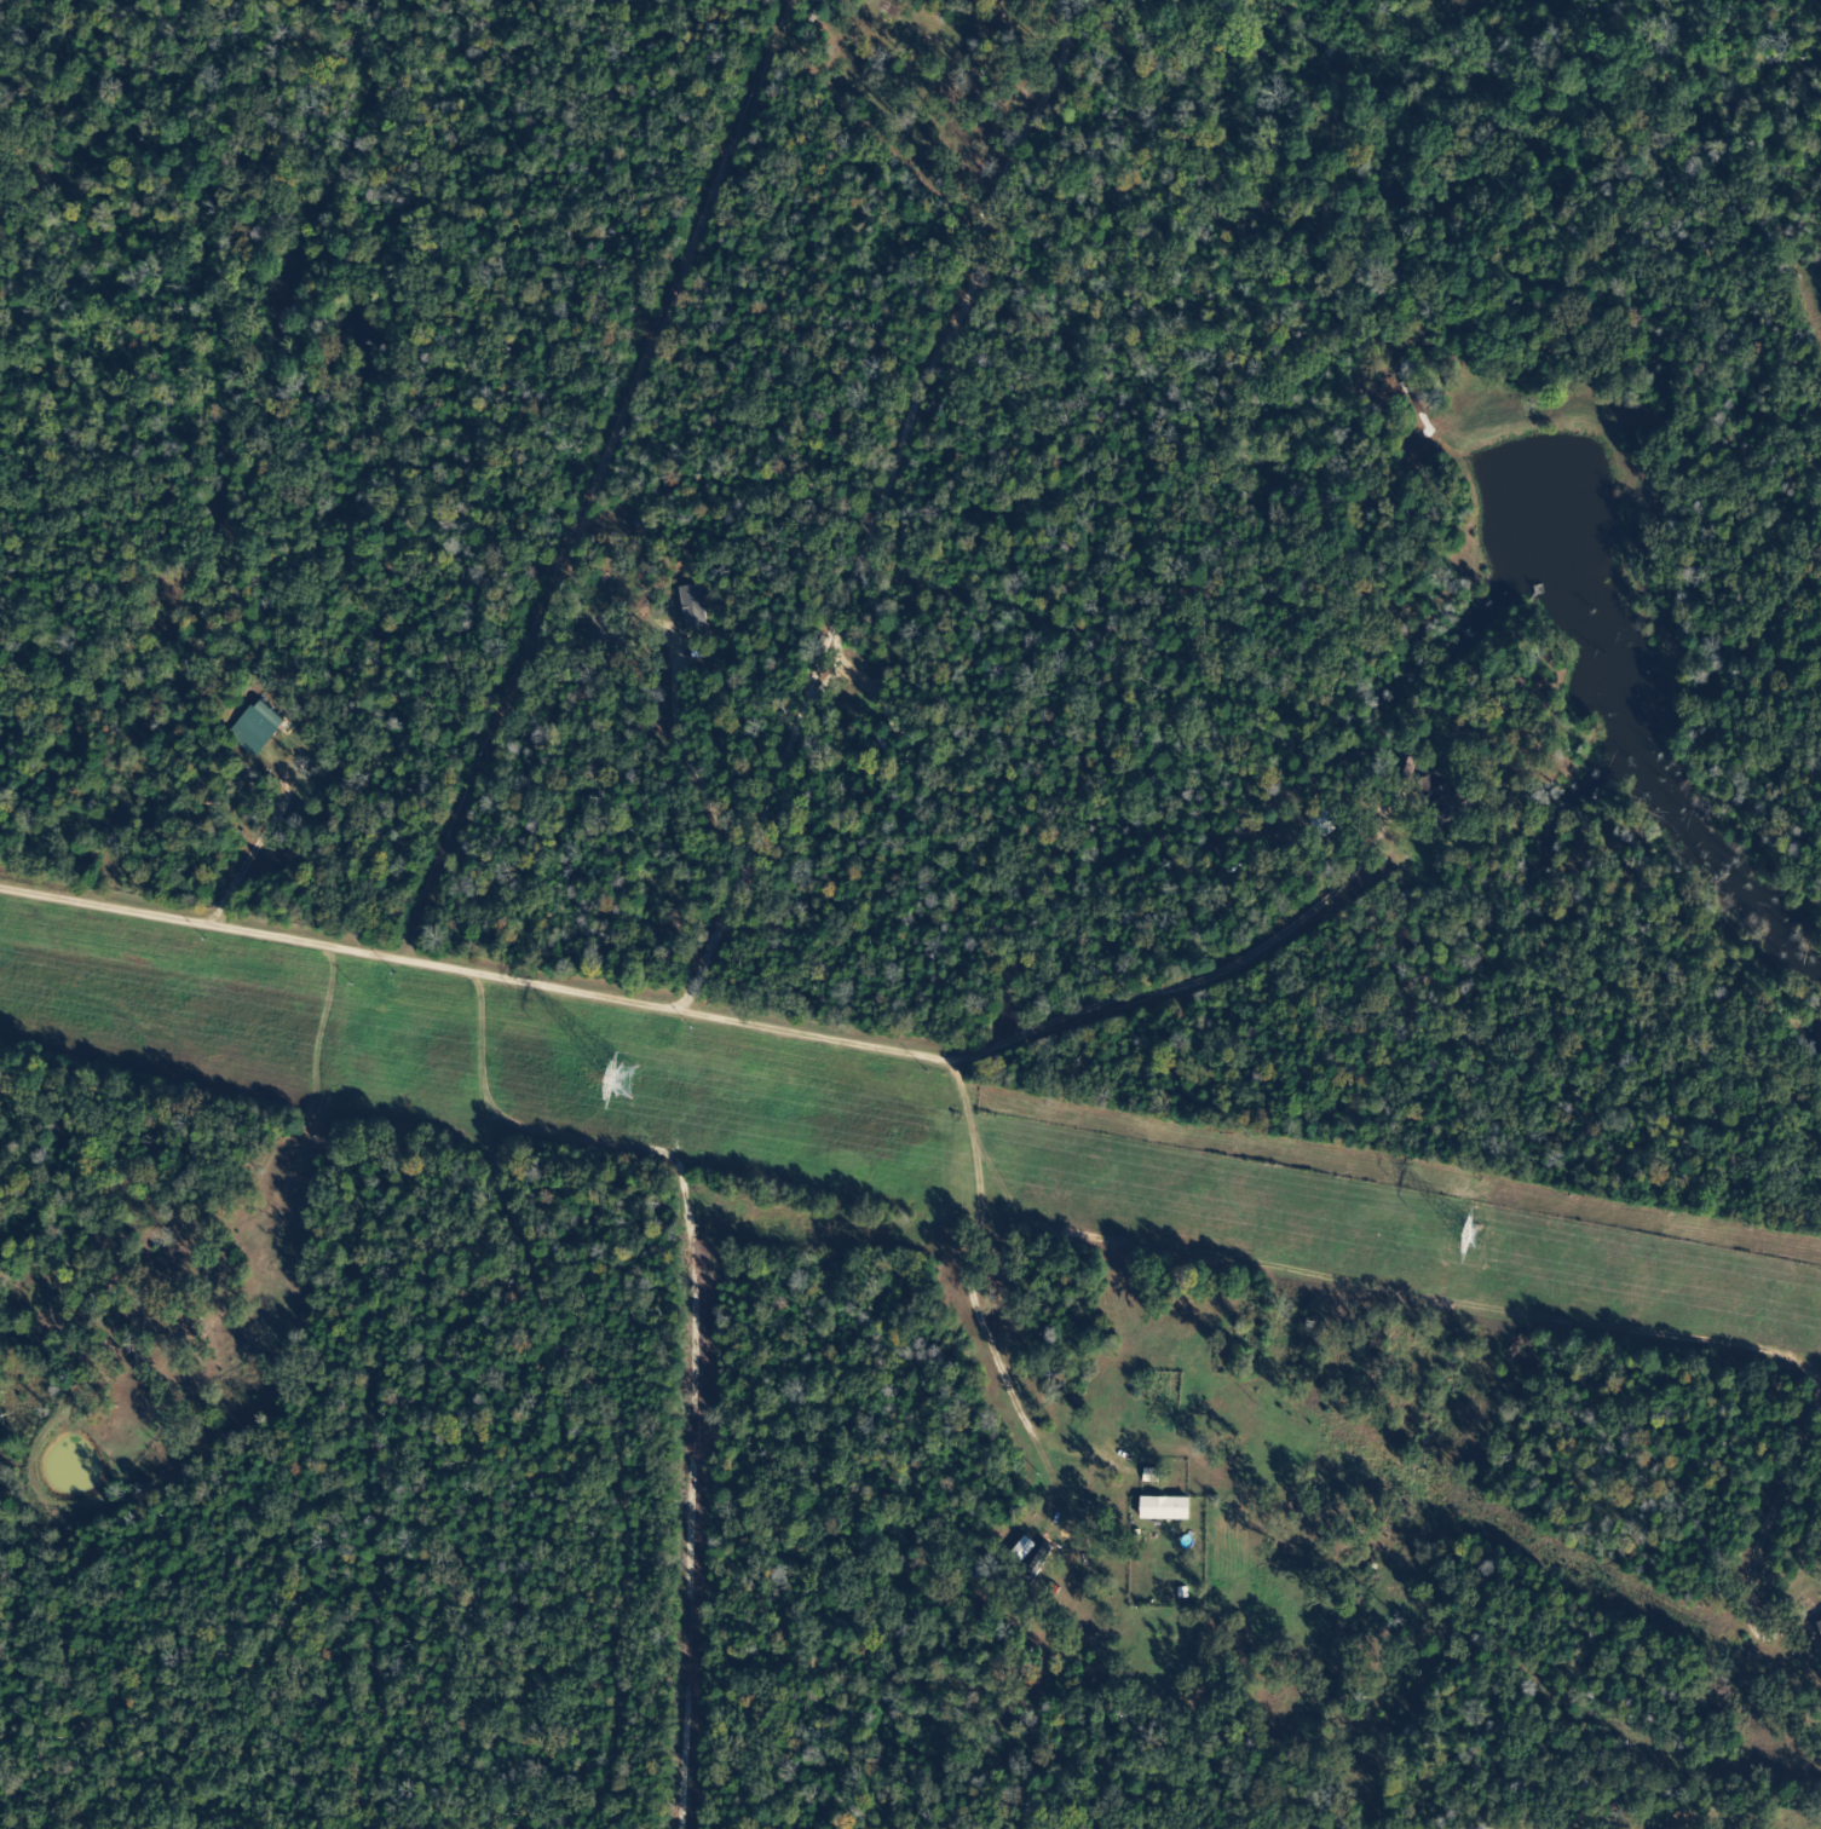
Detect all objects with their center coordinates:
building: (696, 607)
building: (260, 728)
building: (1445, 795)
power tower: (598, 1074)
power tower: (1466, 1234)
building: (1169, 1510)

